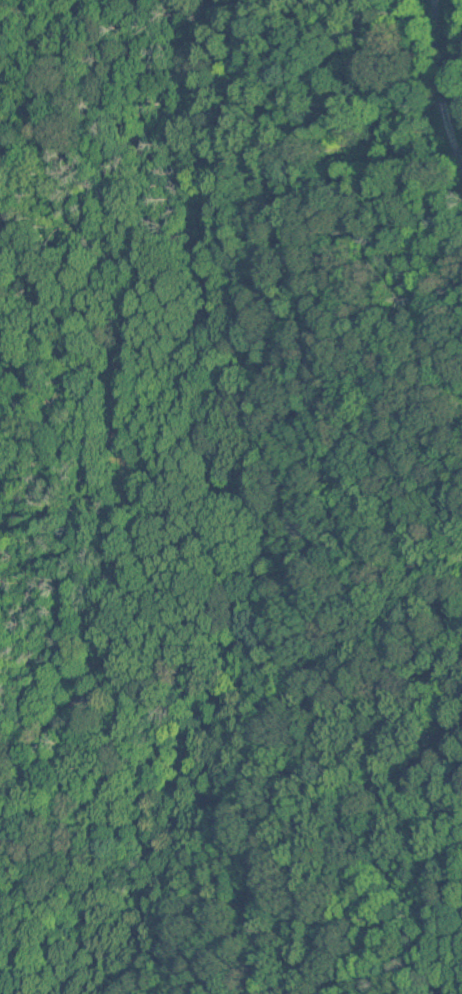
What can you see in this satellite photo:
road: (452, 32)

